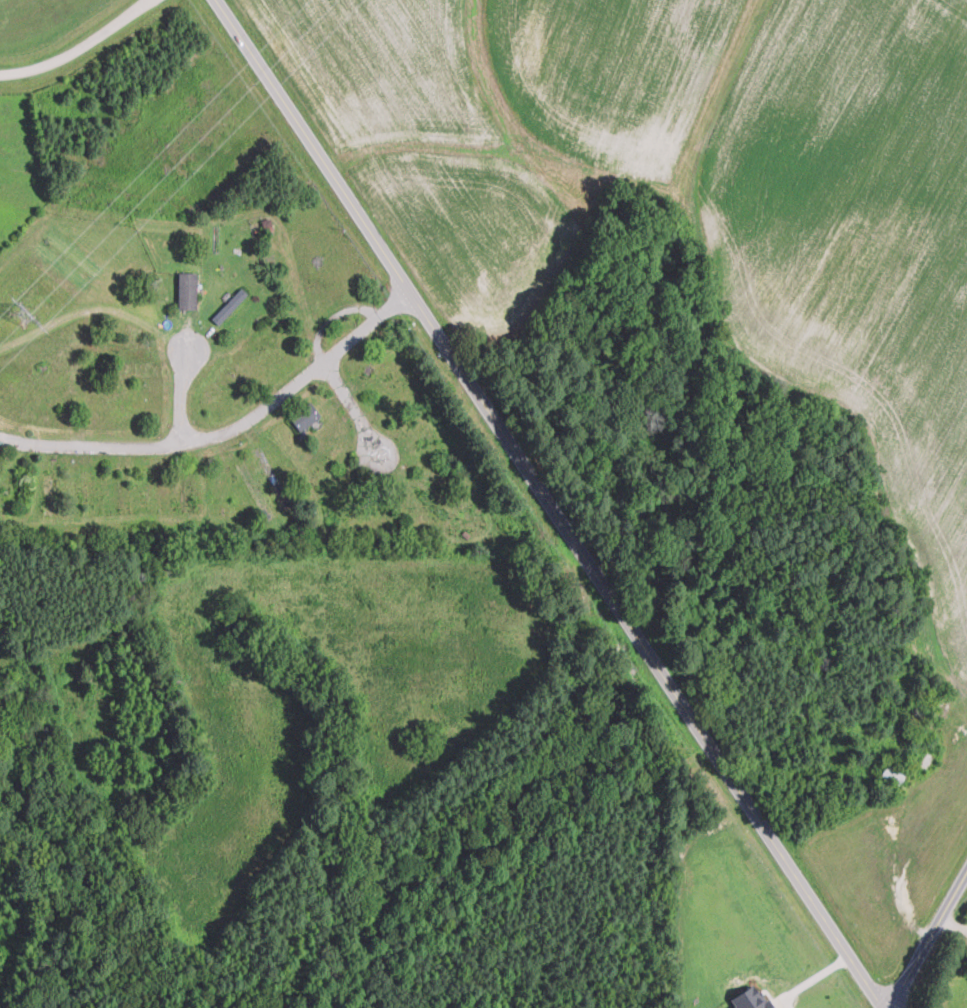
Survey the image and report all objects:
road: (75, 44)
building: (186, 290)
building: (229, 305)
power tower: (22, 315)
road: (180, 394)
road: (355, 407)
building: (303, 415)
road: (227, 431)
road: (553, 503)
building: (892, 773)
road: (929, 941)
road: (813, 977)
building: (750, 998)

